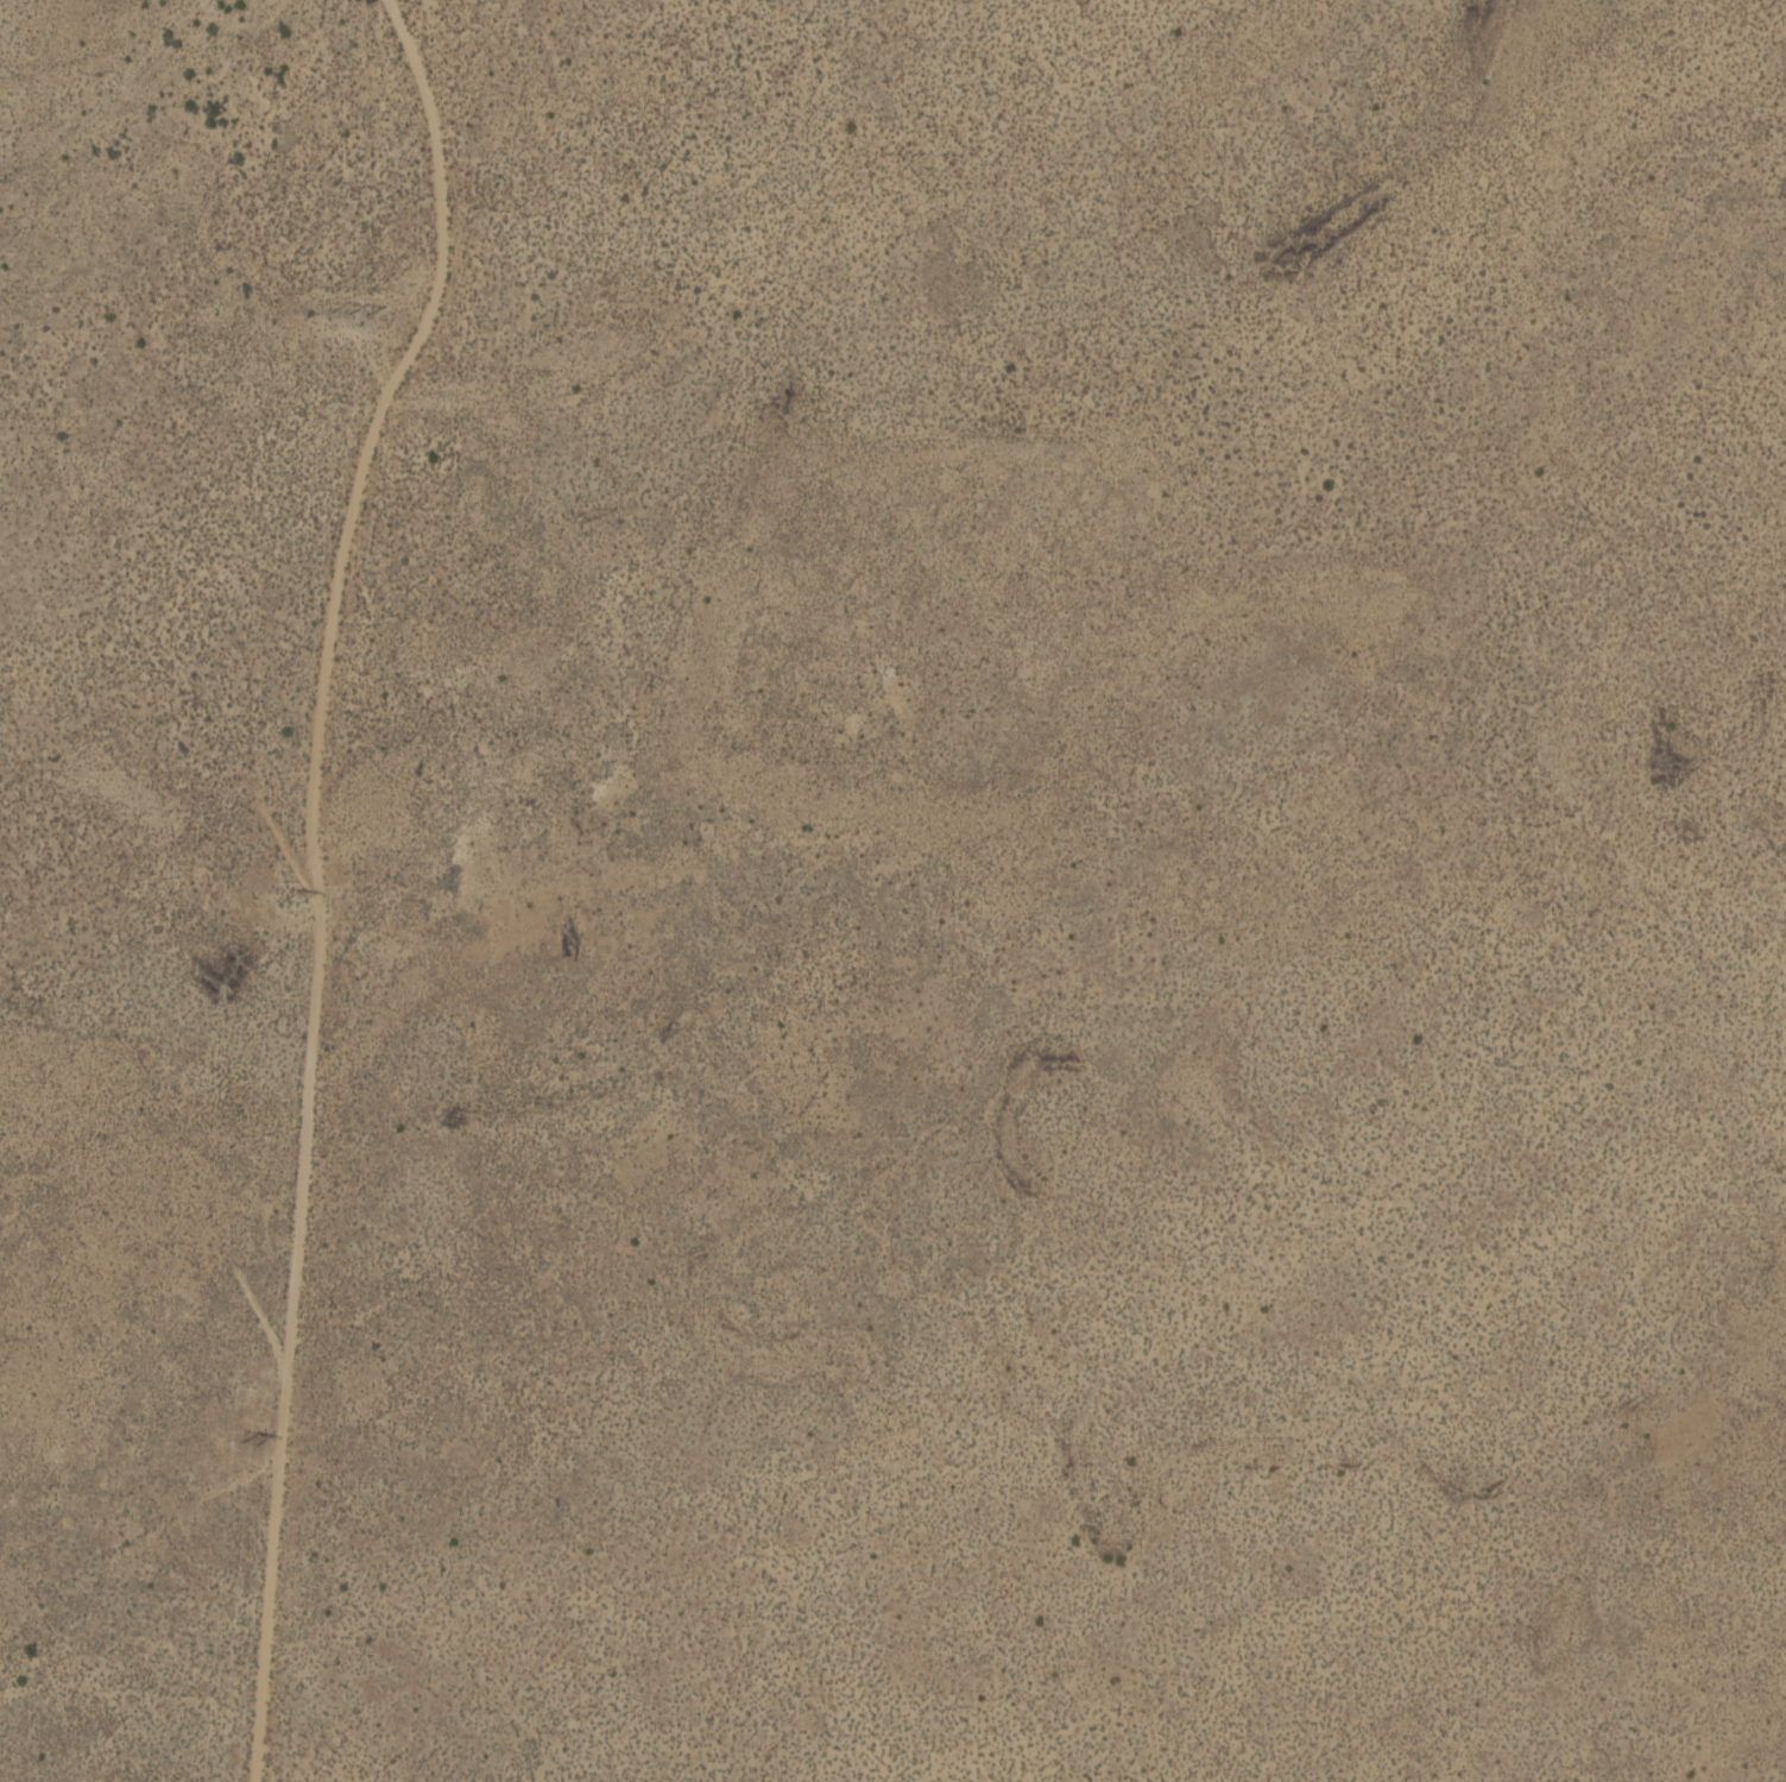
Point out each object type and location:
road: (100, 103)
power tower: (367, 317)
road: (391, 892)
power tower: (303, 905)
power tower: (257, 1447)

